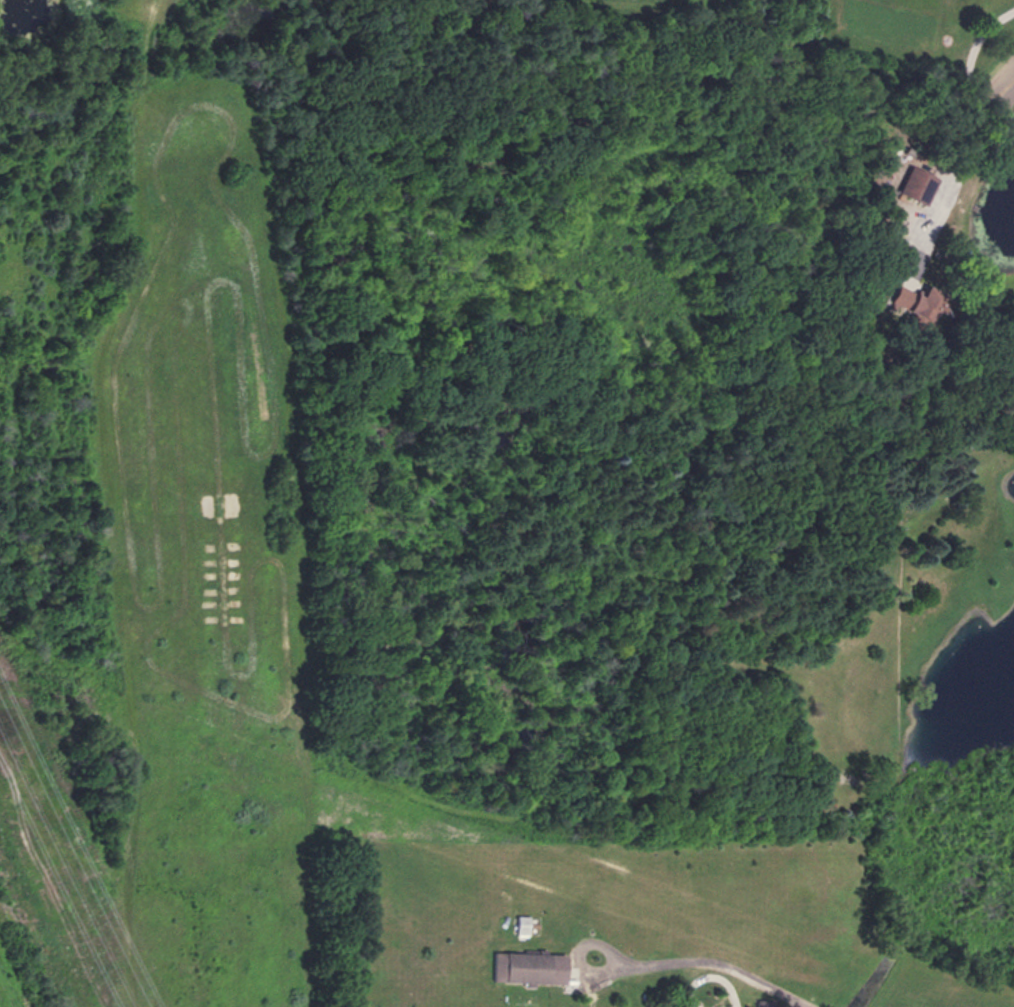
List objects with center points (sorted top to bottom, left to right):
building: (920, 184)
building: (914, 299)
building: (523, 923)
road: (701, 958)
building: (530, 965)

